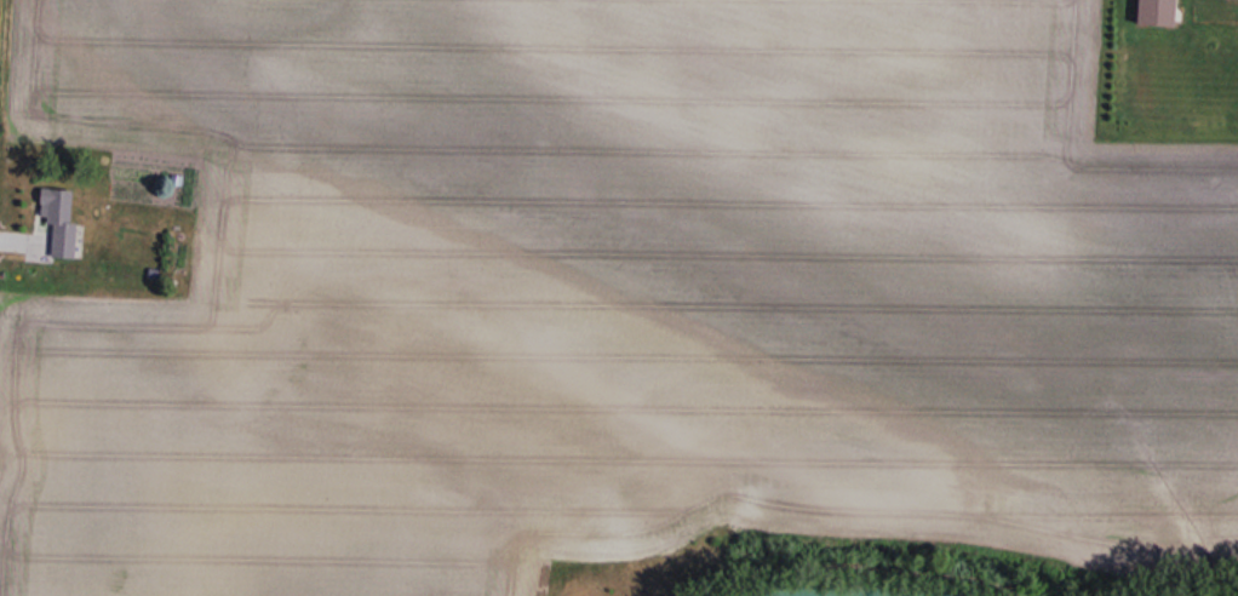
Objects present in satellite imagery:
building: (1159, 12)
building: (61, 218)

